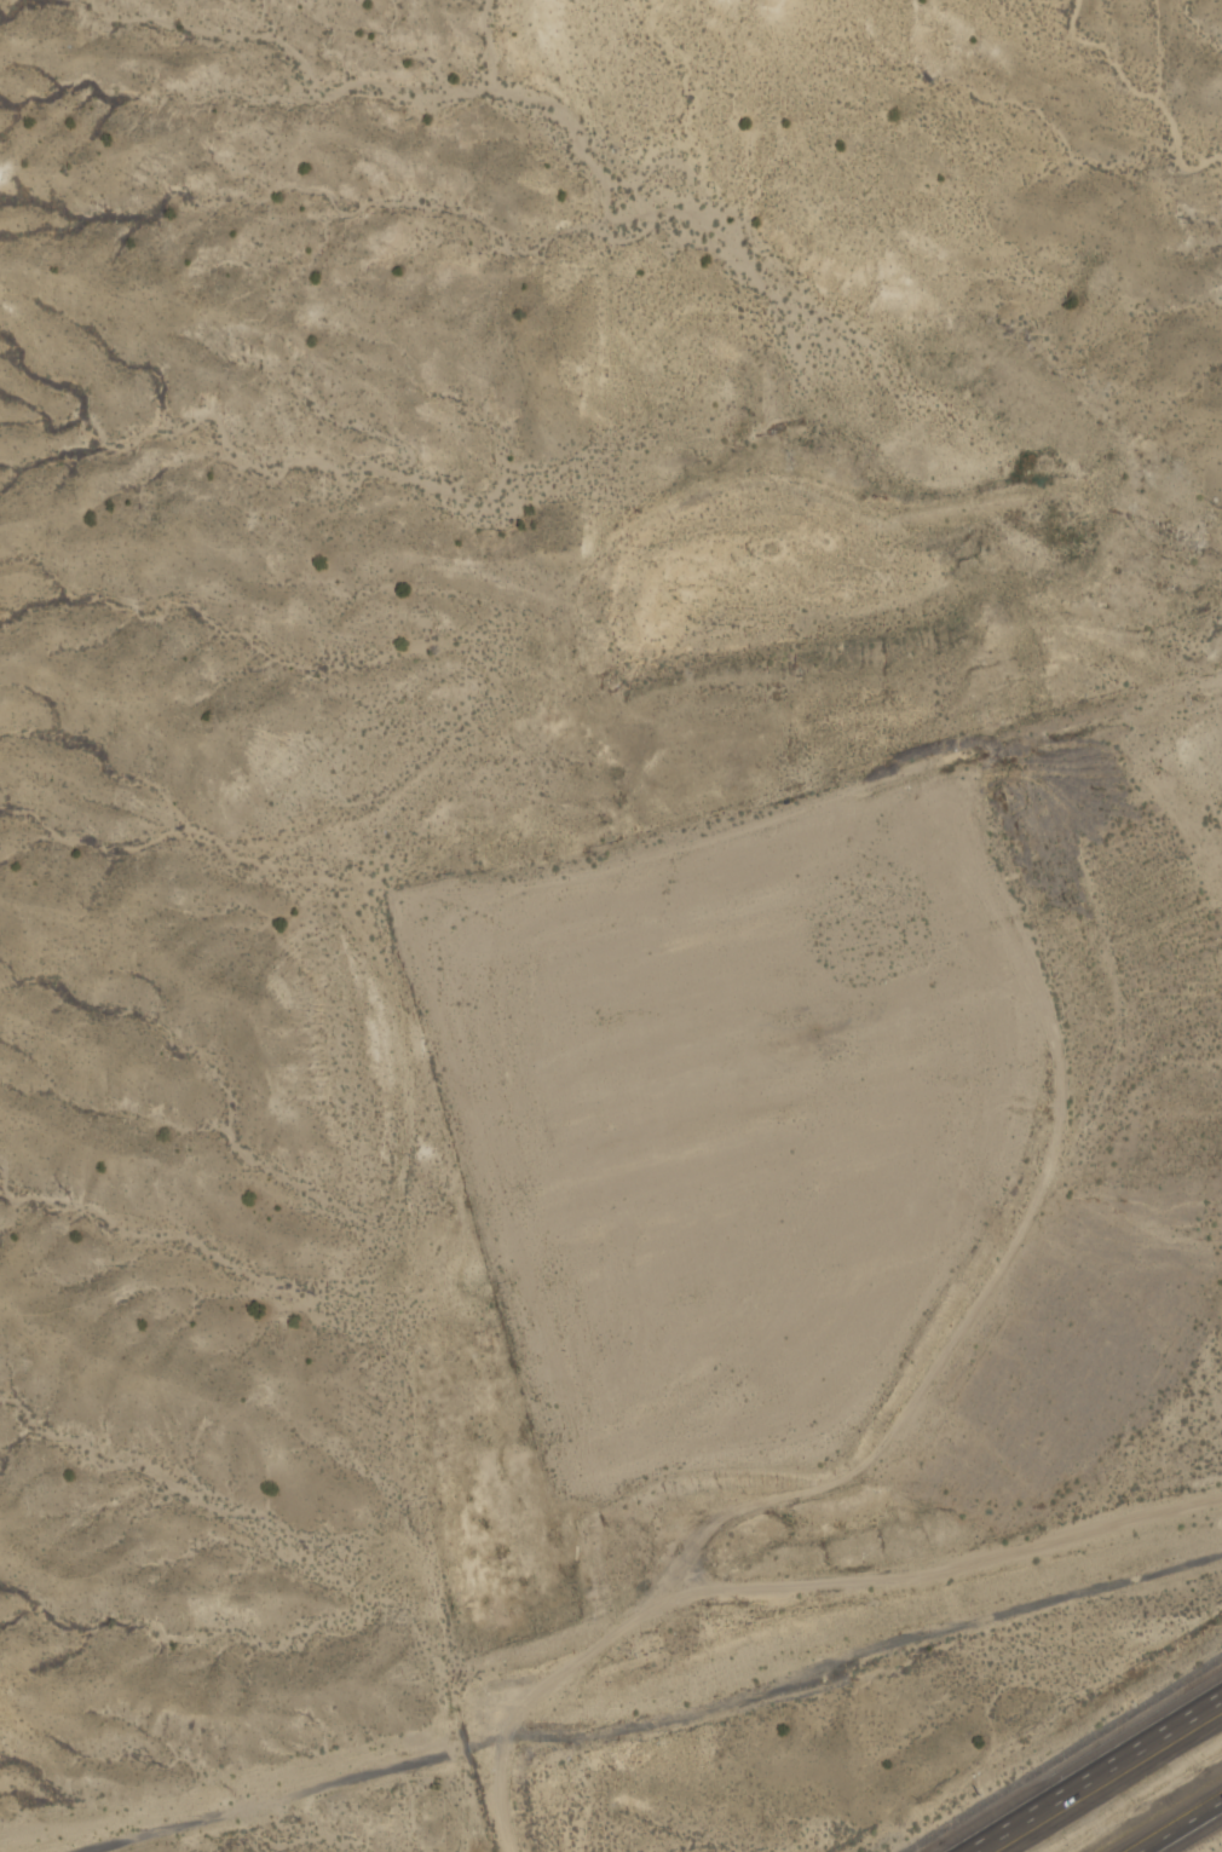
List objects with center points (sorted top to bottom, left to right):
road: (783, 1585)
road: (1091, 1771)
road: (289, 1793)
road: (1183, 1828)

